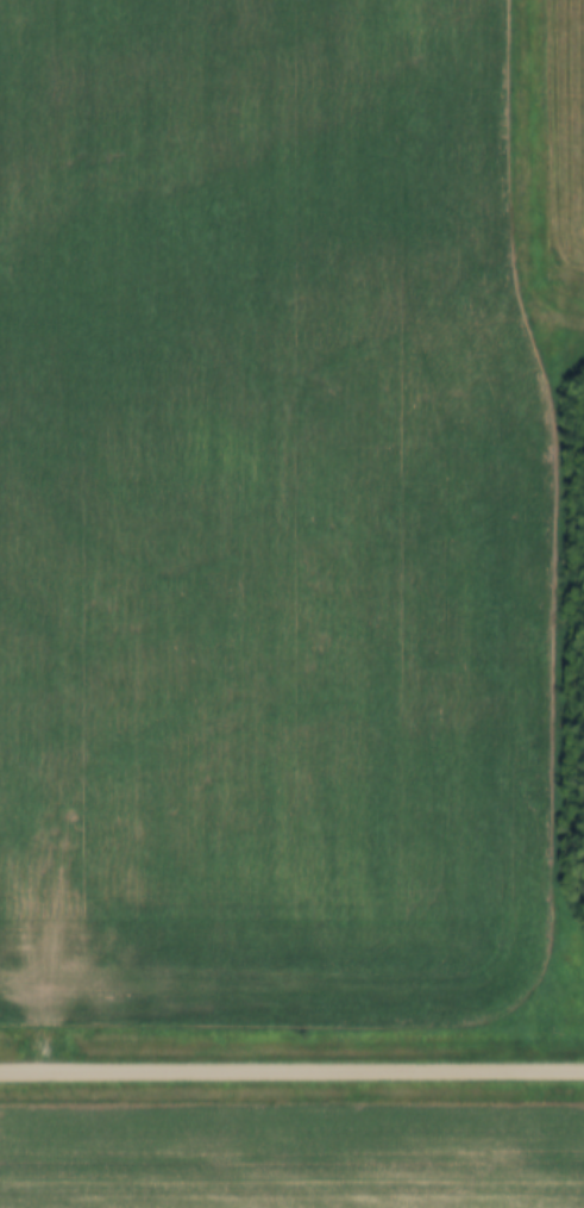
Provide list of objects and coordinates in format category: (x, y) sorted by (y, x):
road: (291, 1069)

